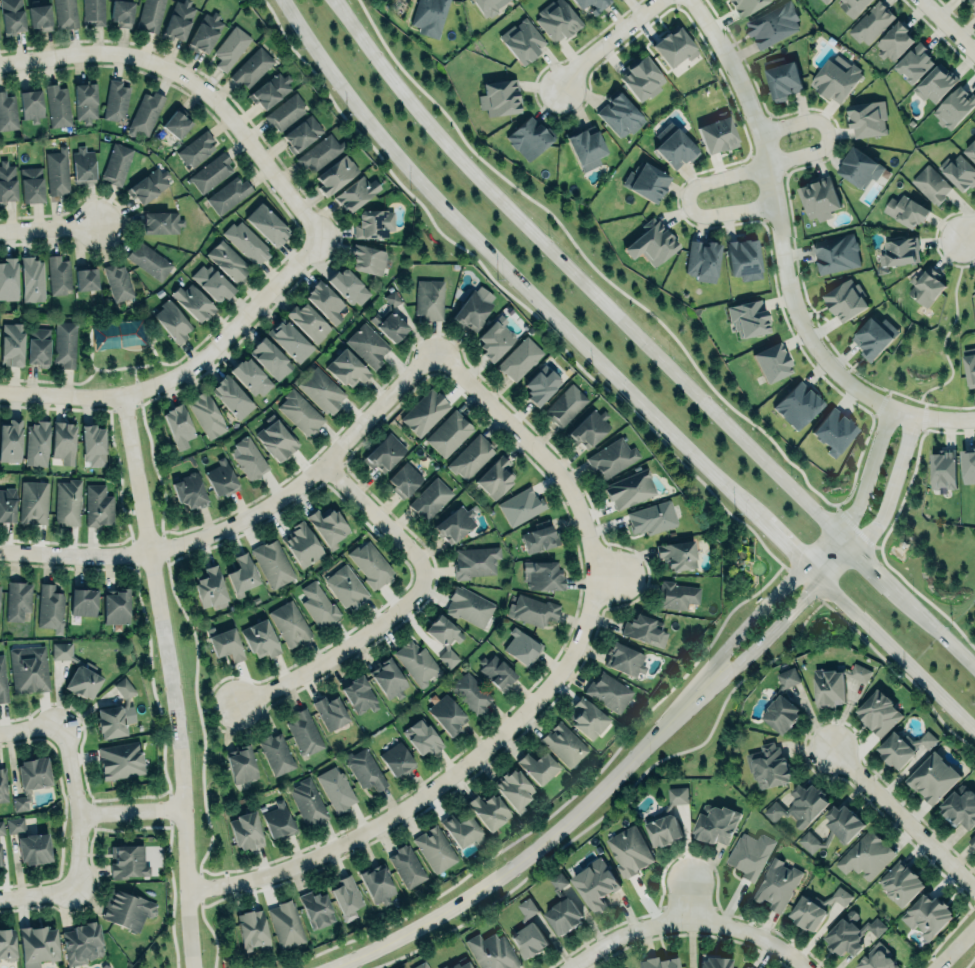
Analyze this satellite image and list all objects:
building: (962, 0)
building: (825, 1)
building: (973, 1)
building: (592, 4)
building: (744, 5)
building: (486, 6)
building: (852, 6)
building: (974, 6)
building: (93, 11)
building: (974, 11)
building: (121, 12)
building: (64, 13)
building: (39, 15)
building: (150, 15)
building: (429, 15)
building: (11, 16)
building: (178, 20)
building: (556, 20)
building: (871, 23)
building: (772, 24)
road: (947, 26)
building: (204, 31)
building: (522, 39)
building: (894, 41)
road: (607, 42)
building: (671, 45)
building: (230, 48)
building: (914, 61)
building: (252, 68)
building: (639, 76)
building: (780, 78)
building: (832, 81)
road: (195, 82)
building: (935, 83)
building: (270, 90)
building: (499, 96)
building: (84, 100)
building: (115, 100)
building: (30, 104)
building: (57, 105)
building: (953, 106)
building: (7, 112)
building: (285, 112)
building: (619, 113)
building: (145, 114)
building: (868, 118)
building: (176, 123)
building: (301, 132)
building: (717, 132)
road: (823, 133)
building: (528, 138)
building: (673, 144)
building: (585, 146)
building: (196, 149)
building: (970, 151)
building: (318, 153)
building: (116, 163)
building: (83, 165)
building: (859, 168)
building: (210, 171)
building: (57, 172)
building: (959, 173)
building: (335, 174)
building: (6, 181)
building: (645, 181)
building: (931, 184)
building: (31, 185)
building: (148, 185)
building: (355, 191)
building: (228, 194)
building: (819, 197)
road: (688, 202)
building: (906, 210)
building: (160, 222)
building: (263, 222)
building: (373, 222)
road: (49, 227)
road: (778, 228)
road: (968, 230)
building: (647, 241)
building: (246, 243)
building: (898, 252)
building: (835, 253)
building: (702, 259)
building: (743, 259)
building: (148, 260)
building: (367, 260)
building: (228, 261)
building: (58, 274)
building: (8, 278)
building: (31, 279)
building: (86, 279)
building: (212, 281)
building: (118, 282)
building: (348, 285)
building: (925, 287)
building: (974, 288)
building: (392, 299)
building: (428, 299)
building: (324, 300)
building: (193, 301)
building: (845, 301)
road: (540, 302)
building: (473, 308)
building: (747, 317)
building: (171, 321)
building: (307, 321)
building: (389, 325)
building: (114, 334)
road: (944, 335)
building: (494, 338)
building: (871, 339)
building: (289, 340)
building: (65, 342)
road: (645, 342)
building: (11, 343)
building: (367, 344)
building: (38, 346)
building: (269, 357)
building: (768, 358)
building: (519, 359)
building: (347, 368)
building: (970, 368)
road: (186, 371)
building: (250, 376)
building: (539, 386)
building: (321, 390)
building: (231, 396)
building: (797, 403)
building: (564, 405)
building: (299, 412)
building: (425, 412)
building: (206, 414)
road: (943, 420)
building: (178, 424)
building: (588, 427)
building: (833, 429)
building: (448, 433)
building: (276, 438)
building: (10, 439)
building: (63, 441)
building: (36, 442)
building: (93, 444)
building: (383, 451)
building: (611, 456)
building: (248, 457)
building: (471, 457)
building: (967, 465)
building: (943, 468)
road: (868, 473)
building: (494, 476)
building: (221, 477)
building: (403, 478)
road: (891, 486)
building: (629, 487)
building: (189, 491)
building: (430, 498)
building: (67, 501)
building: (33, 502)
building: (7, 504)
building: (98, 505)
building: (521, 506)
building: (652, 517)
road: (249, 519)
road: (381, 522)
building: (454, 523)
building: (327, 526)
building: (539, 536)
building: (301, 545)
building: (677, 553)
building: (475, 562)
building: (273, 563)
building: (370, 564)
road: (840, 566)
building: (242, 574)
building: (543, 574)
building: (344, 585)
building: (210, 589)
building: (676, 595)
building: (17, 599)
building: (82, 601)
building: (318, 604)
building: (115, 605)
building: (469, 607)
building: (50, 608)
building: (531, 610)
building: (289, 622)
road: (745, 626)
building: (644, 629)
road: (772, 633)
building: (260, 638)
building: (444, 639)
building: (226, 643)
building: (521, 646)
road: (342, 651)
building: (624, 658)
road: (899, 658)
building: (416, 662)
building: (28, 668)
building: (76, 671)
building: (496, 671)
road: (895, 672)
building: (387, 677)
building: (787, 678)
building: (2, 680)
road: (170, 680)
building: (834, 683)
building: (608, 691)
building: (470, 692)
building: (358, 695)
road: (545, 695)
road: (691, 706)
road: (207, 710)
building: (329, 711)
building: (115, 712)
building: (879, 712)
building: (781, 714)
building: (446, 715)
building: (587, 717)
road: (30, 730)
building: (304, 731)
building: (421, 736)
building: (562, 743)
building: (895, 749)
building: (276, 753)
building: (396, 758)
building: (120, 759)
building: (240, 764)
building: (768, 766)
building: (537, 767)
building: (364, 768)
building: (33, 773)
building: (933, 778)
building: (3, 785)
building: (336, 788)
building: (514, 789)
building: (21, 802)
building: (307, 802)
road: (615, 802)
building: (799, 806)
road: (81, 807)
building: (960, 807)
building: (487, 809)
road: (133, 810)
building: (666, 818)
building: (277, 820)
road: (904, 821)
building: (714, 823)
building: (15, 824)
building: (834, 827)
building: (1, 828)
building: (245, 830)
building: (461, 830)
building: (972, 840)
building: (33, 848)
building: (434, 849)
building: (629, 851)
building: (749, 854)
building: (865, 855)
building: (0, 860)
building: (127, 860)
building: (406, 866)
road: (512, 867)
building: (901, 882)
building: (376, 883)
building: (776, 883)
building: (595, 884)
road: (39, 895)
building: (840, 896)
road: (691, 903)
building: (316, 908)
building: (562, 908)
building: (127, 909)
building: (807, 914)
building: (927, 916)
road: (687, 923)
building: (285, 924)
building: (251, 929)
building: (528, 931)
building: (850, 933)
building: (82, 943)
building: (7, 944)
building: (37, 945)
road: (957, 949)
building: (491, 952)
building: (877, 958)
road: (968, 959)
building: (658, 962)
building: (714, 962)
building: (461, 964)
building: (421, 965)
building: (748, 966)

